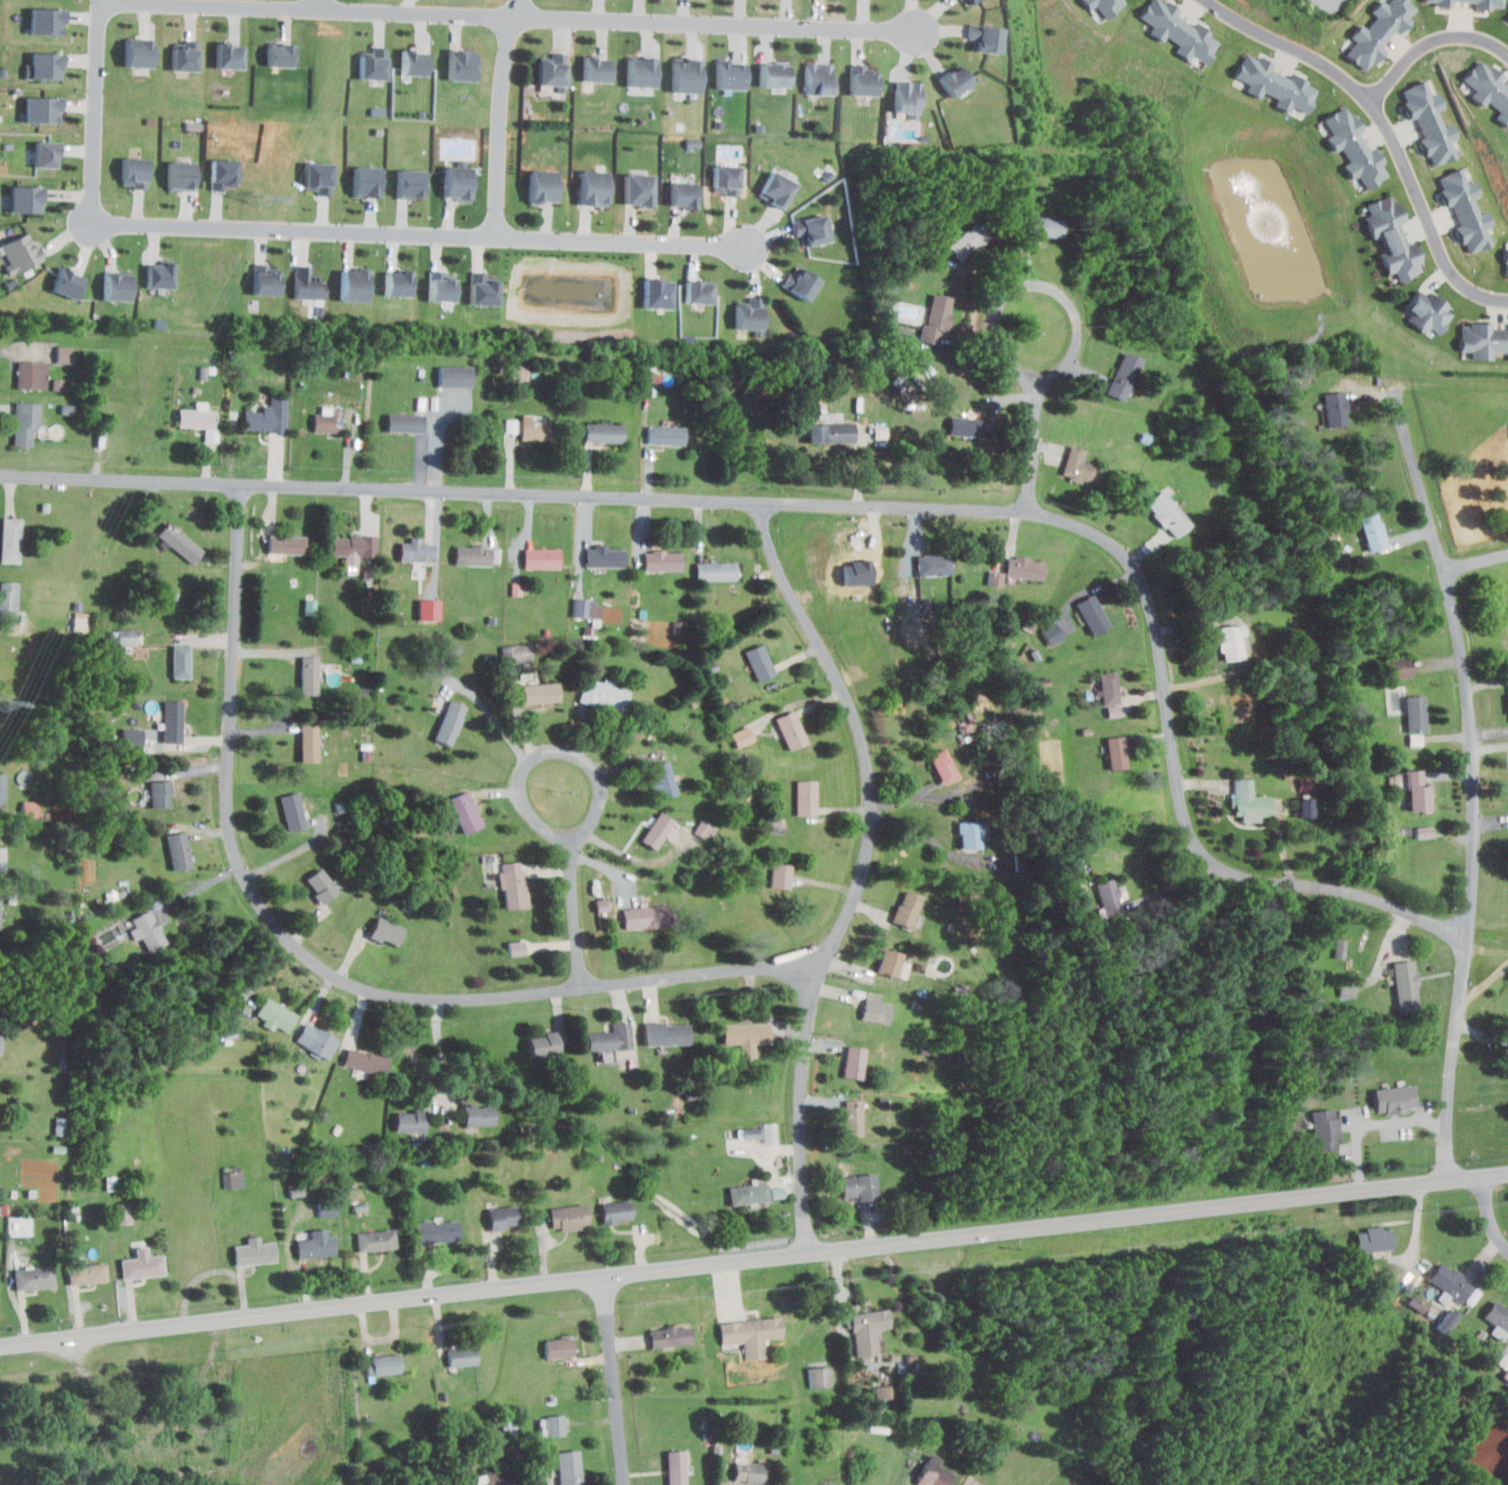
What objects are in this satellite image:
building: (968, 1)
road: (1328, 1)
road: (321, 4)
building: (1102, 4)
building: (1484, 5)
road: (506, 17)
building: (48, 19)
building: (1177, 27)
building: (1377, 34)
building: (981, 38)
road: (1430, 43)
building: (282, 52)
building: (138, 54)
building: (228, 56)
building: (188, 57)
building: (417, 62)
building: (46, 65)
building: (464, 65)
building: (374, 66)
building: (596, 70)
building: (641, 72)
building: (552, 74)
building: (773, 75)
building: (732, 76)
building: (684, 77)
building: (817, 79)
building: (859, 81)
building: (951, 81)
building: (1277, 82)
building: (1494, 84)
building: (906, 98)
building: (40, 110)
road: (97, 111)
road: (502, 117)
building: (1431, 123)
road: (1388, 125)
building: (1359, 145)
building: (45, 154)
building: (134, 172)
building: (221, 174)
building: (185, 176)
building: (318, 176)
building: (725, 180)
building: (369, 181)
building: (458, 183)
building: (412, 184)
building: (542, 186)
building: (591, 188)
building: (636, 189)
building: (777, 190)
building: (680, 194)
building: (24, 199)
building: (1467, 206)
building: (1043, 226)
building: (811, 230)
road: (418, 233)
building: (1393, 237)
building: (969, 242)
building: (23, 254)
building: (1507, 268)
building: (161, 274)
building: (265, 280)
building: (801, 283)
building: (69, 284)
building: (308, 284)
building: (353, 285)
building: (398, 285)
building: (440, 287)
building: (115, 288)
building: (484, 293)
building: (695, 293)
building: (654, 294)
building: (1428, 313)
building: (746, 314)
building: (937, 320)
building: (1481, 341)
road: (1070, 352)
building: (65, 353)
building: (521, 371)
building: (31, 375)
building: (1123, 375)
building: (652, 376)
building: (455, 377)
building: (902, 382)
building: (1336, 410)
building: (268, 417)
building: (195, 418)
building: (406, 422)
building: (25, 423)
building: (326, 423)
building: (966, 427)
building: (513, 430)
building: (534, 431)
building: (830, 432)
building: (604, 434)
building: (665, 435)
road: (440, 440)
road: (1034, 441)
building: (1078, 465)
river: (1289, 495)
road: (866, 504)
building: (1168, 514)
building: (1374, 533)
building: (10, 540)
building: (179, 543)
building: (285, 544)
road: (584, 545)
building: (349, 549)
building: (416, 551)
building: (473, 557)
building: (605, 557)
building: (541, 558)
building: (662, 562)
road: (1476, 562)
building: (933, 565)
building: (1023, 567)
building: (713, 571)
building: (517, 588)
building: (8, 600)
building: (310, 605)
building: (587, 607)
building: (430, 608)
building: (1092, 614)
building: (1053, 632)
building: (123, 635)
building: (1229, 640)
building: (518, 653)
building: (180, 662)
building: (759, 662)
building: (1402, 665)
building: (310, 677)
building: (722, 687)
building: (1109, 688)
building: (541, 693)
building: (603, 696)
building: (1114, 710)
building: (1418, 713)
road: (495, 719)
building: (172, 723)
building: (450, 723)
building: (791, 730)
building: (743, 735)
building: (308, 743)
building: (1116, 751)
road: (582, 757)
building: (944, 765)
building: (663, 779)
road: (1472, 781)
road: (927, 787)
building: (2, 788)
building: (1418, 791)
road: (929, 793)
building: (161, 794)
building: (806, 797)
building: (1248, 799)
building: (1306, 806)
building: (30, 808)
building: (465, 811)
building: (293, 812)
building: (705, 828)
road: (923, 828)
building: (656, 830)
building: (1425, 831)
building: (969, 833)
building: (178, 850)
road: (290, 854)
building: (2, 861)
road: (862, 871)
building: (782, 875)
building: (512, 884)
building: (321, 885)
road: (1169, 885)
road: (199, 888)
river: (1335, 895)
building: (1108, 898)
building: (602, 904)
building: (0, 910)
building: (908, 910)
road: (575, 913)
building: (646, 916)
building: (150, 931)
building: (386, 932)
building: (515, 946)
building: (887, 963)
road: (319, 966)
road: (1484, 983)
building: (1406, 986)
building: (875, 1009)
building: (275, 1013)
building: (747, 1033)
building: (665, 1034)
building: (609, 1039)
building: (316, 1041)
building: (0, 1043)
building: (542, 1045)
road: (438, 1050)
river: (1293, 1056)
building: (365, 1060)
building: (853, 1062)
building: (1396, 1098)
building: (479, 1116)
building: (853, 1118)
building: (411, 1121)
road: (1374, 1124)
building: (60, 1125)
building: (1325, 1130)
building: (769, 1131)
building: (751, 1132)
building: (233, 1179)
building: (860, 1185)
building: (296, 1191)
building: (749, 1194)
building: (615, 1211)
building: (123, 1213)
river: (1225, 1213)
road: (1490, 1214)
building: (503, 1216)
building: (569, 1216)
building: (438, 1231)
building: (374, 1239)
building: (1374, 1240)
building: (315, 1244)
building: (253, 1252)
road: (754, 1260)
building: (142, 1264)
building: (88, 1273)
building: (34, 1277)
building: (1450, 1282)
road: (840, 1301)
building: (1417, 1303)
building: (1497, 1316)
building: (1449, 1319)
building: (868, 1329)
building: (751, 1334)
building: (670, 1336)
building: (559, 1347)
river: (1143, 1353)
building: (462, 1355)
building: (1504, 1360)
building: (385, 1364)
building: (820, 1376)
road: (613, 1381)
building: (884, 1391)
building: (556, 1425)
building: (569, 1467)
building: (676, 1467)
building: (748, 1472)
building: (933, 1475)
building: (499, 1480)

